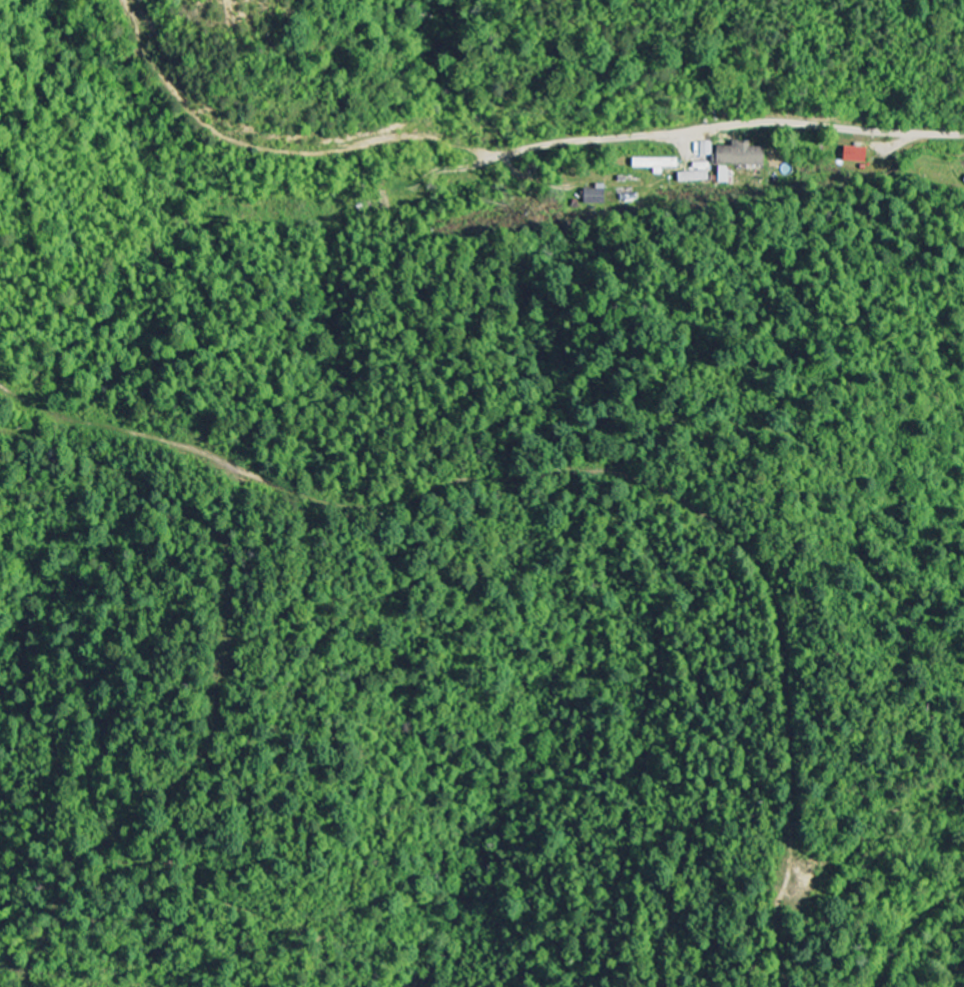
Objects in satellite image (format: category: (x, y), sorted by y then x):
road: (742, 125)
building: (757, 139)
building: (743, 156)
building: (859, 156)
building: (658, 165)
building: (695, 177)
building: (598, 196)

